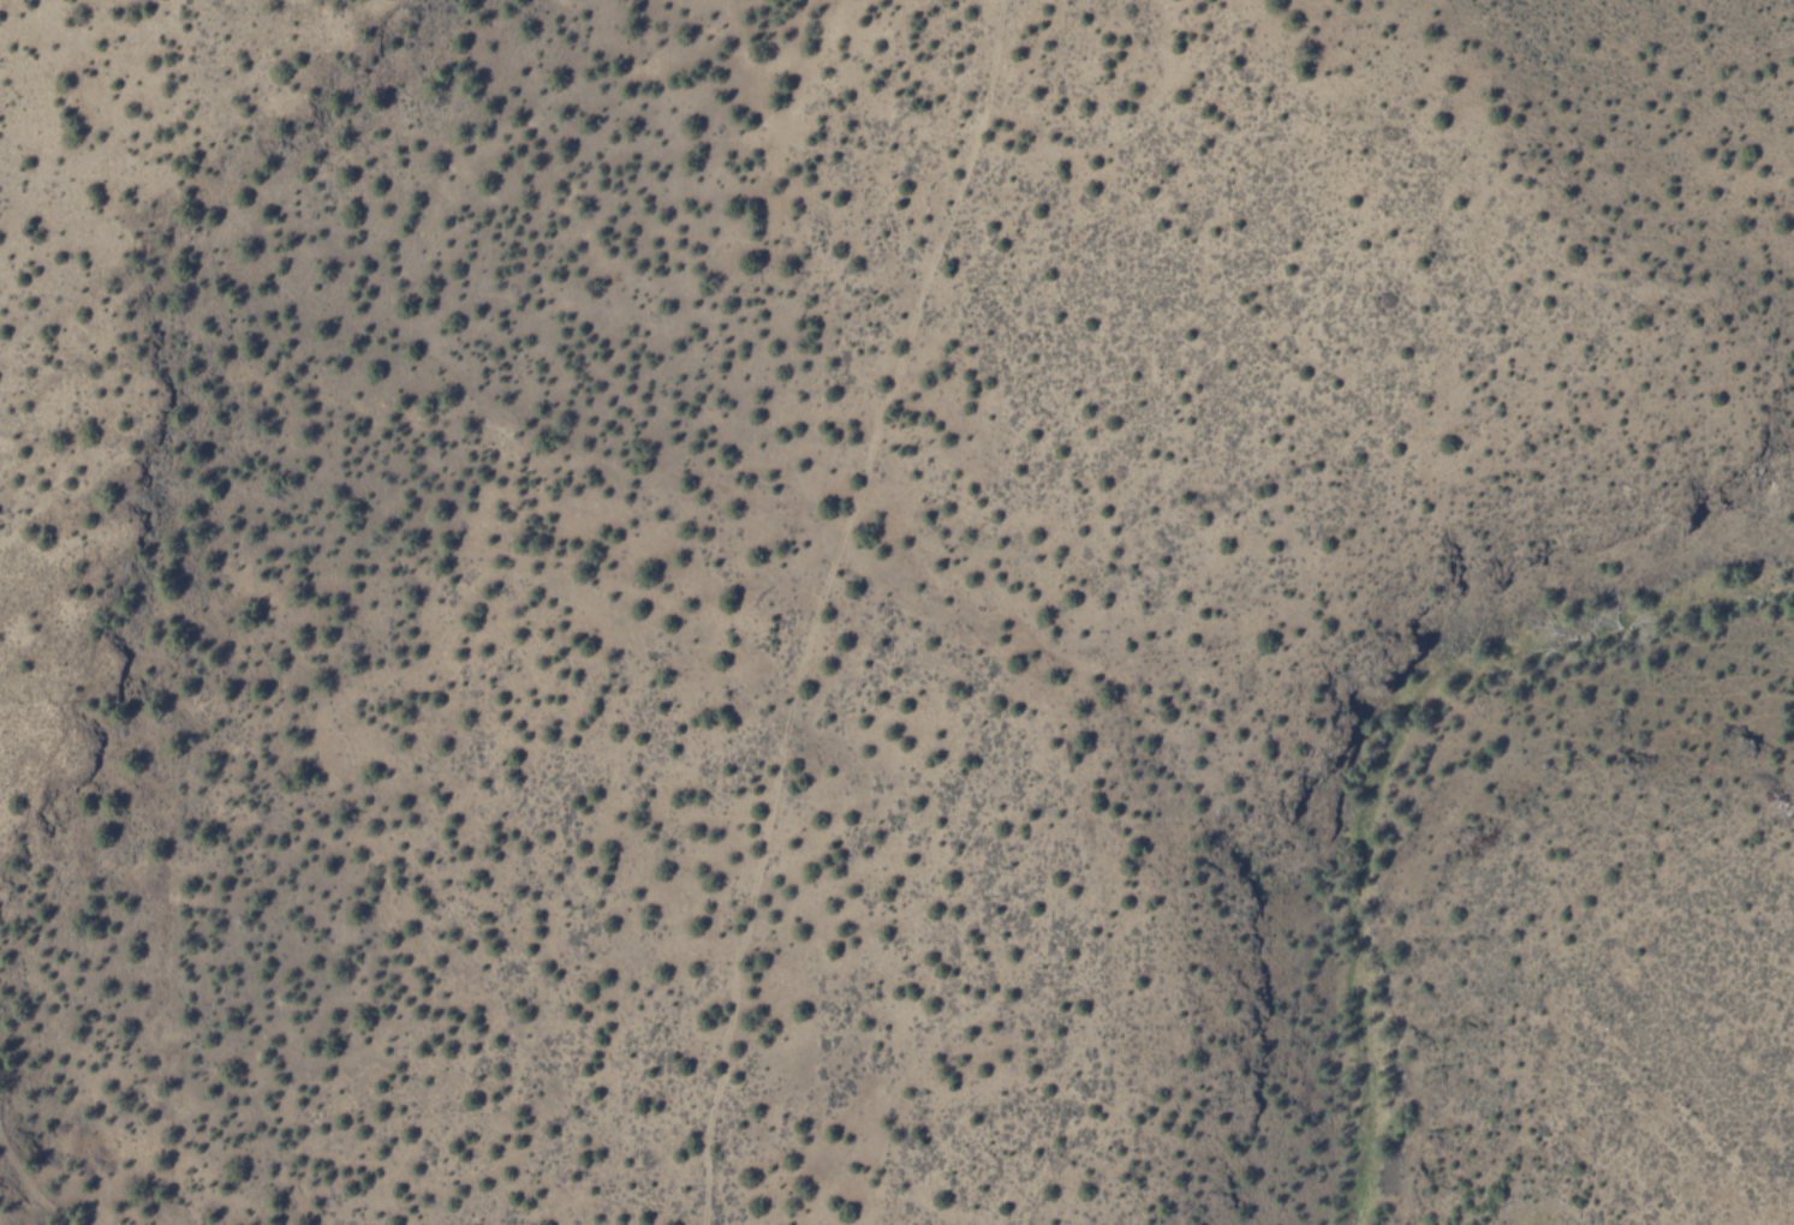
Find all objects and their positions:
crop: (1680, 1104)

